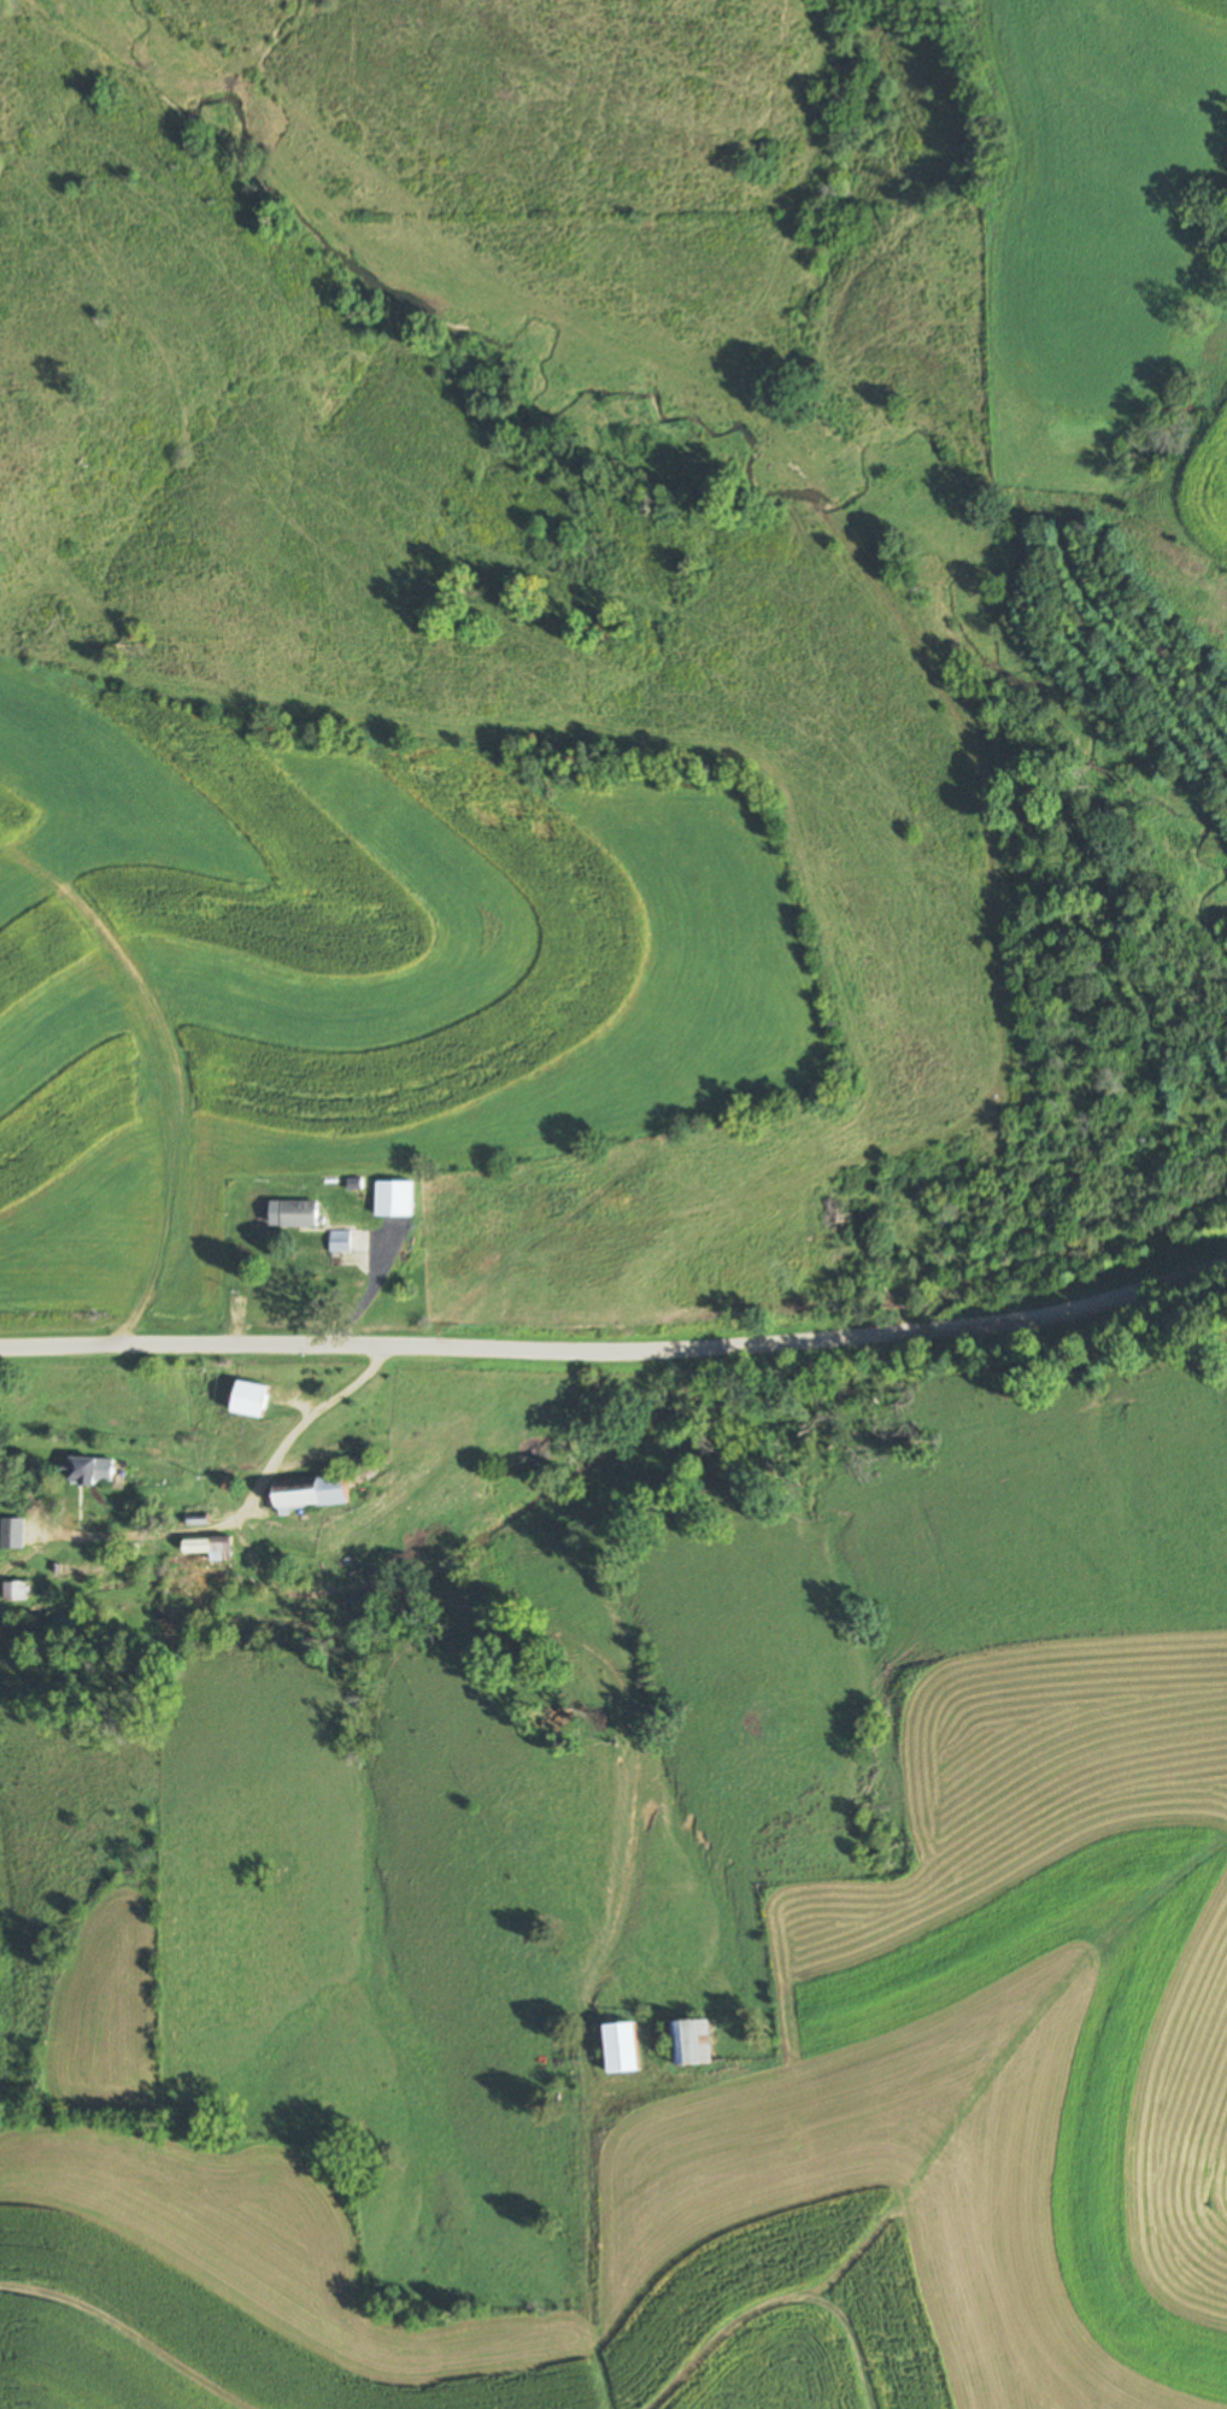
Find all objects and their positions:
building: (394, 1200)
building: (569, 1206)
building: (300, 1214)
building: (341, 1242)
building: (562, 1279)
road: (618, 1350)
building: (249, 1397)
road: (301, 1425)
building: (92, 1471)
building: (313, 1491)
building: (12, 1538)
building: (212, 1547)
building: (17, 1590)
road: (469, 1613)
building: (692, 2042)
building: (623, 2047)

